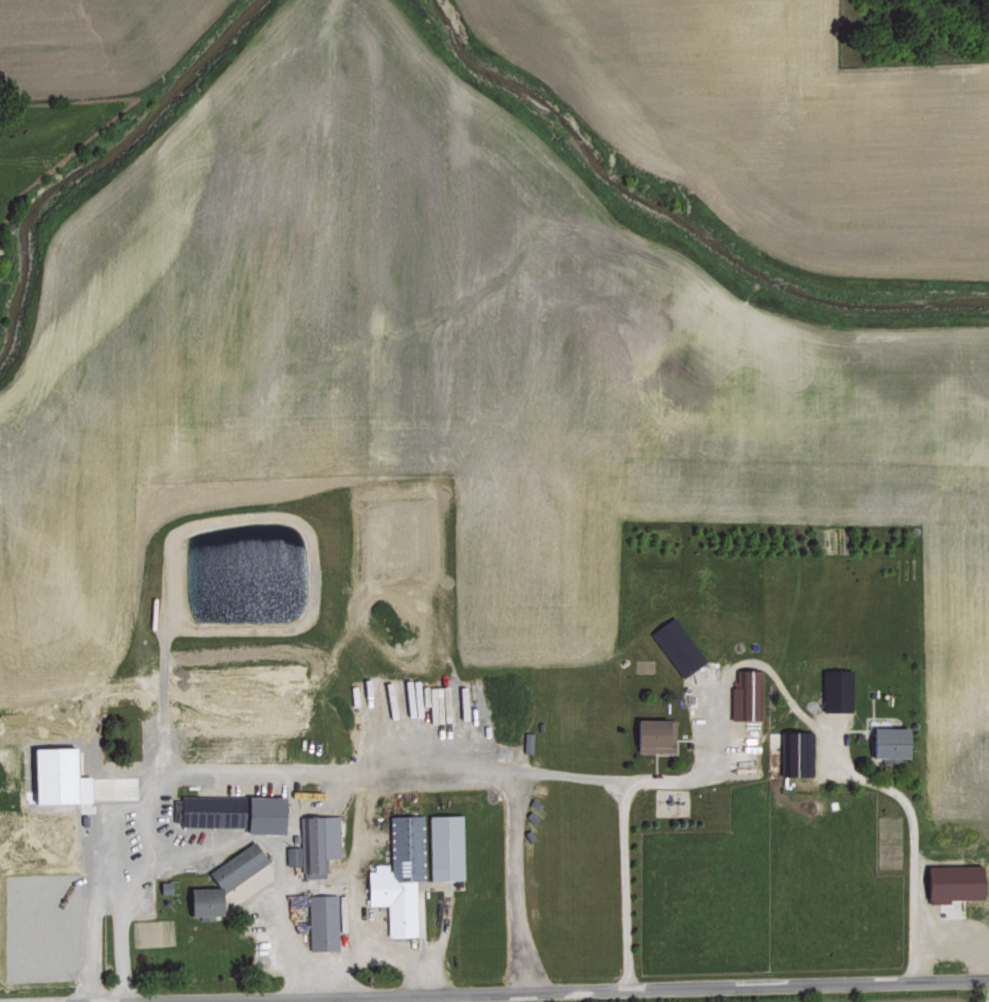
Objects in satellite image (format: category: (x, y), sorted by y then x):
building: (676, 645)
road: (744, 660)
building: (835, 688)
building: (746, 694)
building: (654, 734)
park: (127, 738)
building: (889, 740)
building: (797, 751)
building: (56, 775)
road: (219, 778)
building: (232, 810)
road: (515, 832)
building: (193, 840)
building: (315, 841)
building: (444, 845)
building: (398, 873)
building: (223, 880)
building: (952, 881)
road: (95, 907)
building: (321, 920)
road: (285, 937)
road: (987, 990)
road: (555, 992)

